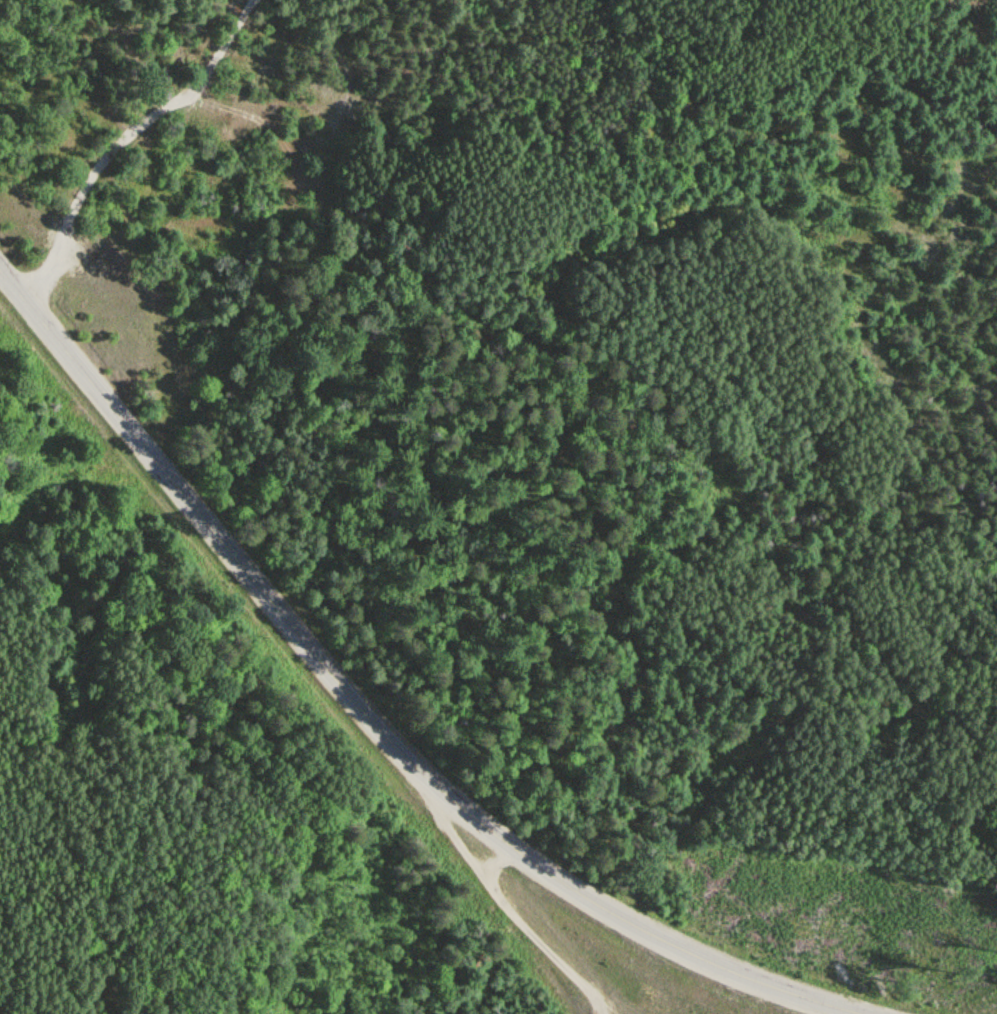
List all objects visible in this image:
road: (123, 140)
road: (368, 715)
road: (532, 933)

